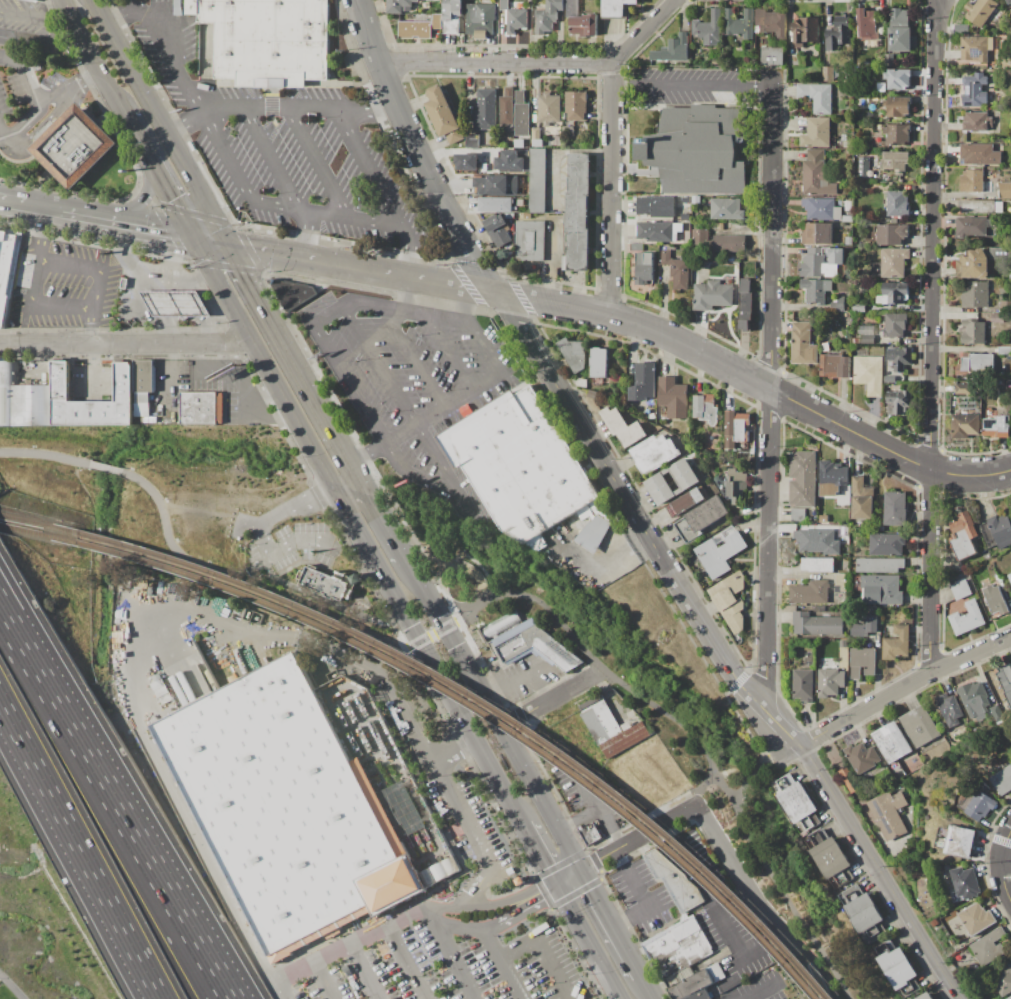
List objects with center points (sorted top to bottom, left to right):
building: (36, 0)
building: (1009, 1)
building: (398, 5)
building: (503, 5)
building: (178, 8)
building: (572, 8)
building: (616, 8)
building: (981, 11)
road: (35, 14)
building: (452, 16)
building: (548, 16)
building: (479, 18)
building: (900, 18)
building: (515, 21)
building: (771, 22)
building: (739, 24)
building: (866, 25)
building: (584, 26)
building: (614, 27)
building: (420, 28)
building: (708, 29)
building: (962, 29)
building: (806, 31)
building: (839, 36)
building: (901, 39)
building: (268, 40)
building: (740, 48)
road: (116, 49)
building: (674, 49)
building: (975, 49)
building: (811, 53)
road: (91, 55)
building: (772, 56)
building: (891, 58)
building: (715, 61)
building: (793, 61)
road: (496, 65)
building: (827, 74)
building: (898, 79)
building: (999, 80)
road: (75, 84)
road: (692, 84)
building: (880, 87)
parking lot: (13, 91)
building: (803, 91)
building: (975, 91)
building: (509, 92)
road: (28, 95)
building: (519, 97)
building: (821, 98)
building: (998, 98)
building: (575, 106)
building: (898, 107)
building: (548, 108)
building: (486, 110)
building: (506, 111)
road: (230, 113)
road: (270, 113)
road: (369, 115)
building: (443, 115)
building: (522, 120)
road: (342, 122)
building: (977, 122)
road: (0, 130)
building: (568, 131)
building: (536, 134)
building: (818, 134)
building: (898, 135)
building: (849, 137)
building: (472, 141)
road: (20, 142)
building: (537, 144)
road: (610, 145)
building: (74, 146)
parking lot: (279, 149)
building: (697, 151)
building: (1006, 154)
building: (980, 155)
building: (509, 161)
building: (466, 162)
building: (896, 162)
building: (864, 167)
road: (183, 171)
road: (155, 174)
building: (817, 176)
building: (538, 181)
building: (986, 184)
building: (496, 185)
road: (254, 201)
building: (521, 201)
road: (138, 203)
building: (898, 204)
building: (495, 205)
road: (12, 207)
building: (656, 207)
building: (977, 207)
building: (998, 207)
building: (726, 209)
building: (821, 210)
building: (579, 211)
road: (43, 213)
building: (509, 216)
building: (526, 216)
building: (847, 219)
road: (86, 221)
building: (718, 226)
building: (975, 227)
building: (498, 230)
building: (656, 231)
road: (151, 233)
building: (824, 233)
building: (810, 234)
building: (891, 234)
road: (38, 238)
building: (700, 238)
traffic signals: (192, 240)
building: (531, 241)
building: (849, 241)
road: (208, 243)
building: (729, 243)
traffic signals: (225, 246)
building: (636, 247)
road: (271, 254)
building: (995, 254)
road: (176, 256)
building: (666, 257)
building: (821, 262)
building: (565, 263)
building: (891, 263)
building: (973, 265)
building: (645, 268)
building: (8, 272)
road: (154, 273)
road: (385, 274)
building: (681, 274)
building: (851, 274)
road: (157, 282)
building: (124, 284)
road: (187, 284)
road: (219, 290)
building: (815, 290)
road: (476, 291)
road: (252, 293)
building: (291, 293)
building: (712, 295)
building: (975, 295)
building: (895, 296)
road: (94, 298)
road: (165, 304)
building: (176, 304)
gas station: (176, 304)
road: (195, 304)
building: (746, 304)
building: (838, 304)
road: (367, 306)
building: (859, 308)
road: (215, 316)
road: (427, 317)
building: (998, 319)
building: (895, 325)
road: (90, 326)
road: (204, 329)
road: (171, 330)
building: (866, 331)
building: (974, 333)
road: (932, 337)
building: (867, 340)
building: (855, 341)
road: (124, 344)
building: (803, 344)
road: (486, 350)
building: (1004, 350)
road: (447, 354)
building: (574, 354)
building: (900, 358)
road: (412, 359)
building: (599, 363)
building: (982, 363)
building: (966, 364)
building: (835, 366)
road: (86, 369)
building: (868, 374)
building: (144, 376)
parking lot: (414, 380)
building: (890, 380)
building: (1002, 381)
building: (580, 382)
road: (758, 382)
building: (644, 383)
road: (555, 384)
building: (963, 389)
road: (770, 390)
building: (61, 394)
building: (593, 395)
building: (673, 397)
building: (142, 398)
building: (23, 400)
building: (900, 401)
building: (964, 402)
building: (202, 408)
building: (706, 409)
building: (142, 410)
road: (320, 410)
road: (290, 417)
road: (427, 419)
building: (149, 420)
building: (614, 420)
building: (738, 425)
building: (966, 426)
building: (997, 427)
building: (632, 434)
building: (655, 454)
road: (46, 456)
park: (159, 462)
road: (108, 468)
building: (524, 468)
building: (832, 478)
building: (803, 479)
building: (673, 482)
road: (438, 485)
building: (733, 486)
road: (364, 488)
road: (87, 491)
building: (843, 497)
building: (862, 499)
road: (338, 501)
building: (685, 503)
building: (895, 509)
building: (798, 515)
building: (702, 518)
building: (822, 520)
railway: (29, 524)
road: (266, 527)
road: (388, 527)
building: (997, 532)
railway: (28, 534)
building: (963, 536)
road: (447, 540)
building: (817, 541)
building: (887, 544)
parking lot: (306, 547)
building: (719, 552)
building: (818, 564)
road: (460, 565)
building: (880, 565)
road: (479, 567)
building: (1009, 577)
road: (245, 581)
building: (328, 583)
building: (882, 590)
building: (961, 590)
building: (809, 593)
road: (323, 600)
building: (730, 600)
building: (995, 600)
road: (2, 611)
road: (2, 612)
building: (967, 618)
road: (451, 625)
building: (500, 625)
building: (816, 625)
building: (865, 627)
road: (432, 635)
building: (897, 643)
road: (413, 645)
building: (530, 647)
road: (137, 648)
building: (862, 662)
road: (432, 667)
road: (523, 667)
building: (830, 678)
building: (1005, 679)
building: (803, 685)
road: (901, 689)
road: (553, 697)
building: (974, 698)
railway: (480, 699)
railway: (471, 705)
building: (949, 709)
road: (497, 714)
building: (599, 719)
park: (648, 719)
building: (920, 727)
road: (696, 738)
building: (625, 739)
building: (892, 742)
building: (935, 752)
building: (862, 758)
road: (757, 765)
building: (907, 770)
road: (739, 771)
building: (850, 780)
building: (1003, 781)
road: (697, 788)
road: (113, 801)
road: (594, 801)
building: (796, 804)
building: (977, 805)
building: (289, 809)
building: (889, 814)
road: (464, 816)
building: (591, 834)
building: (957, 841)
road: (629, 847)
road: (81, 849)
building: (496, 850)
road: (1008, 851)
road: (542, 855)
road: (626, 858)
building: (830, 858)
road: (1008, 858)
road: (879, 871)
traffic signals: (586, 872)
road: (1006, 877)
building: (675, 882)
building: (966, 883)
traffic signals: (561, 887)
road: (721, 900)
road: (760, 904)
road: (496, 907)
building: (865, 914)
building: (977, 919)
road: (614, 923)
road: (506, 924)
building: (937, 925)
parking lot: (455, 931)
crop: (34, 936)
road: (592, 943)
road: (490, 945)
building: (680, 946)
road: (353, 947)
building: (990, 947)
road: (542, 951)
road: (450, 954)
road: (743, 958)
road: (409, 964)
building: (900, 969)
road: (365, 973)
building: (1003, 978)
road: (509, 979)
road: (328, 982)
building: (697, 984)
road: (751, 986)
road: (10, 987)
road: (649, 987)
road: (226, 992)
road: (283, 992)
road: (743, 995)
building: (927, 996)
building: (723, 997)
building: (1009, 998)

